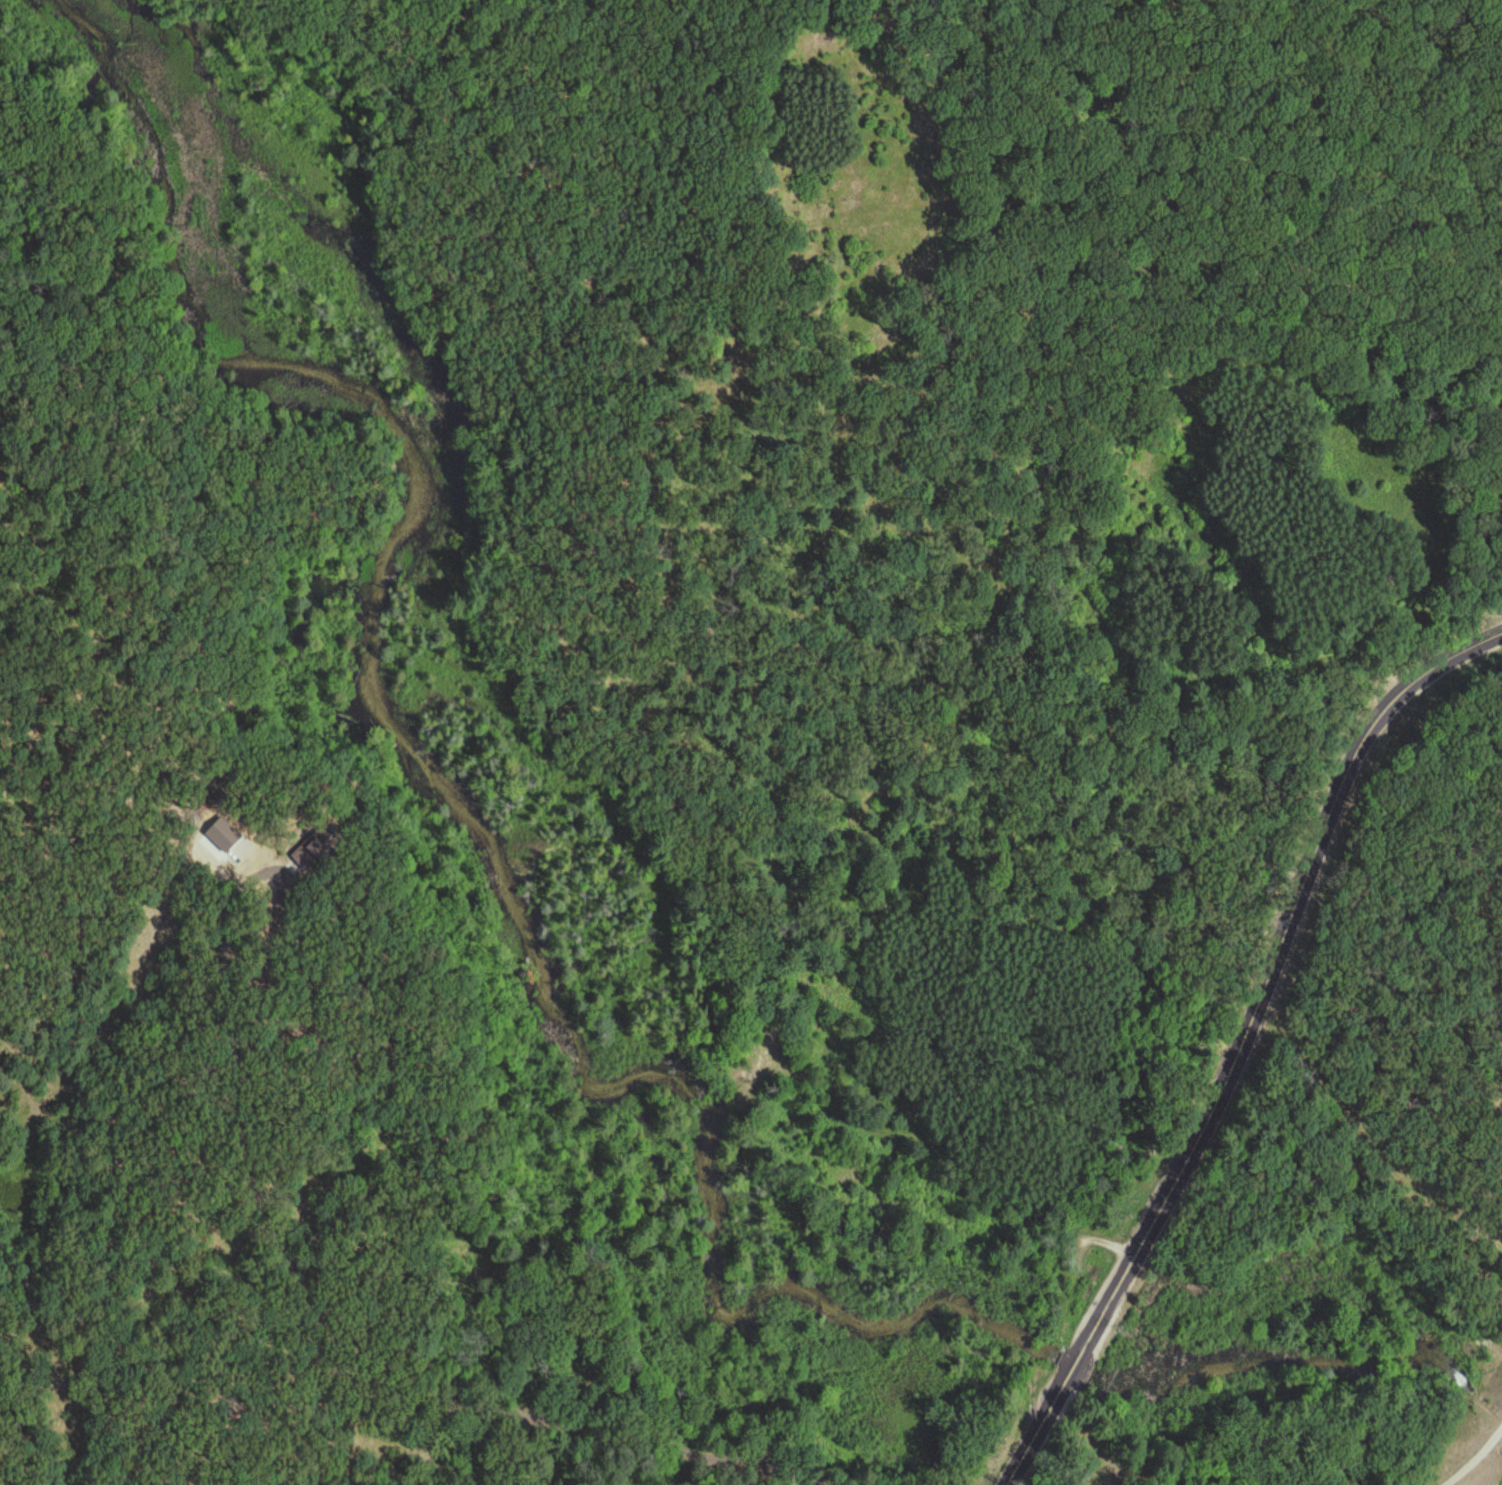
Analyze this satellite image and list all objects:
road: (1244, 1035)
road: (1467, 1453)
road: (1468, 1455)
road: (1468, 1455)

